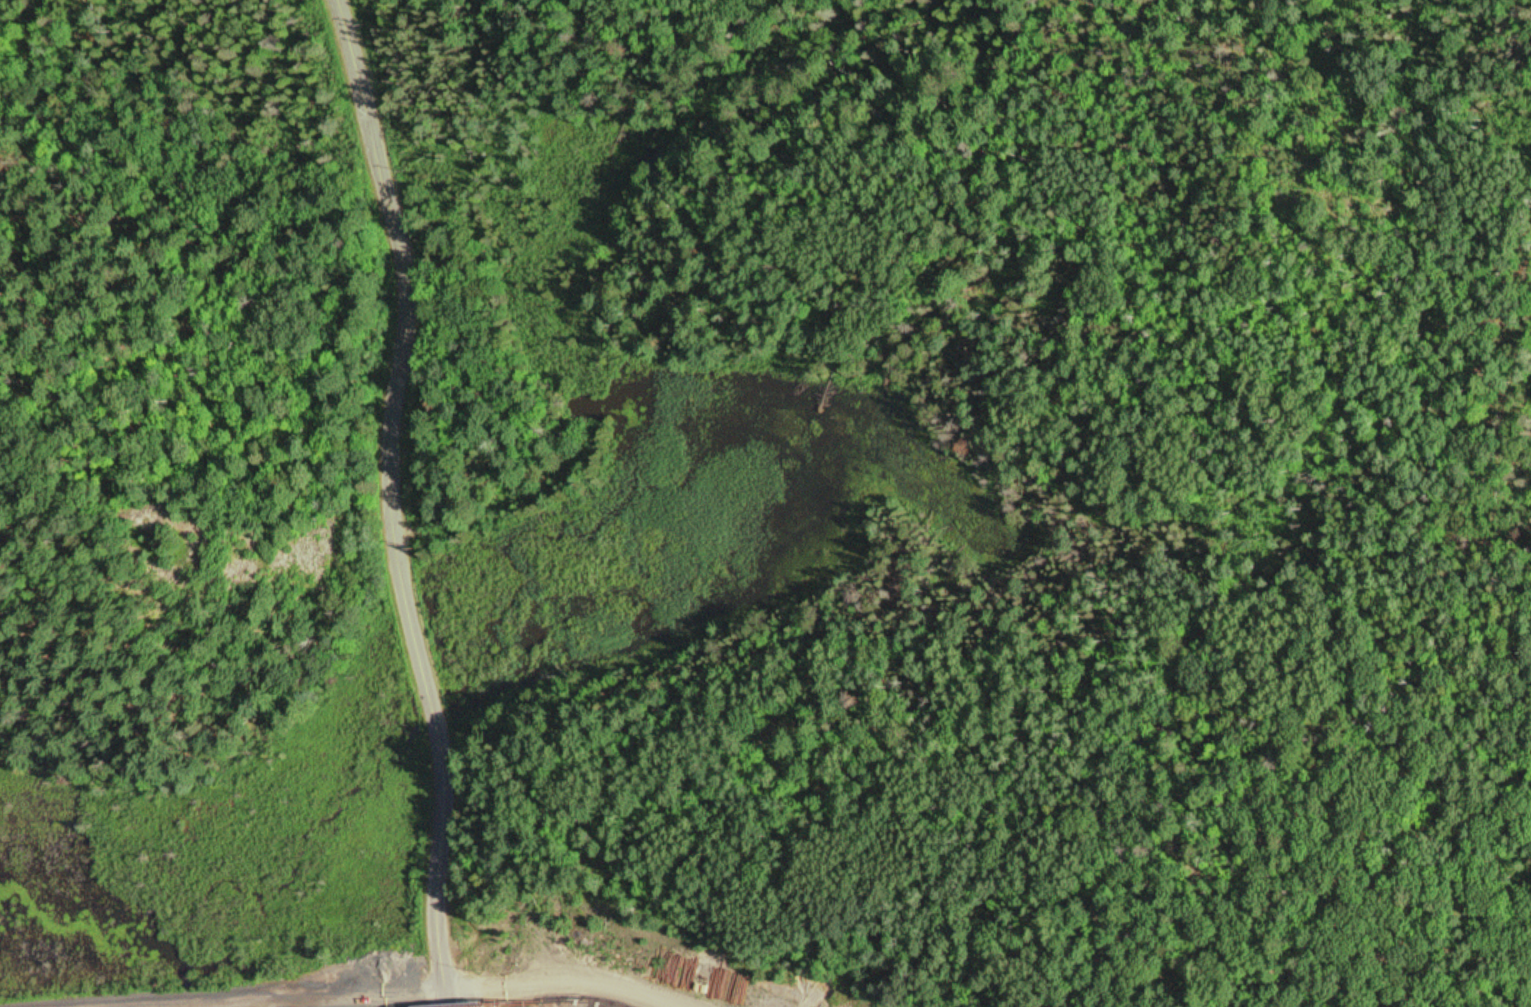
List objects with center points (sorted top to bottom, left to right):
road: (635, 481)
road: (390, 504)

